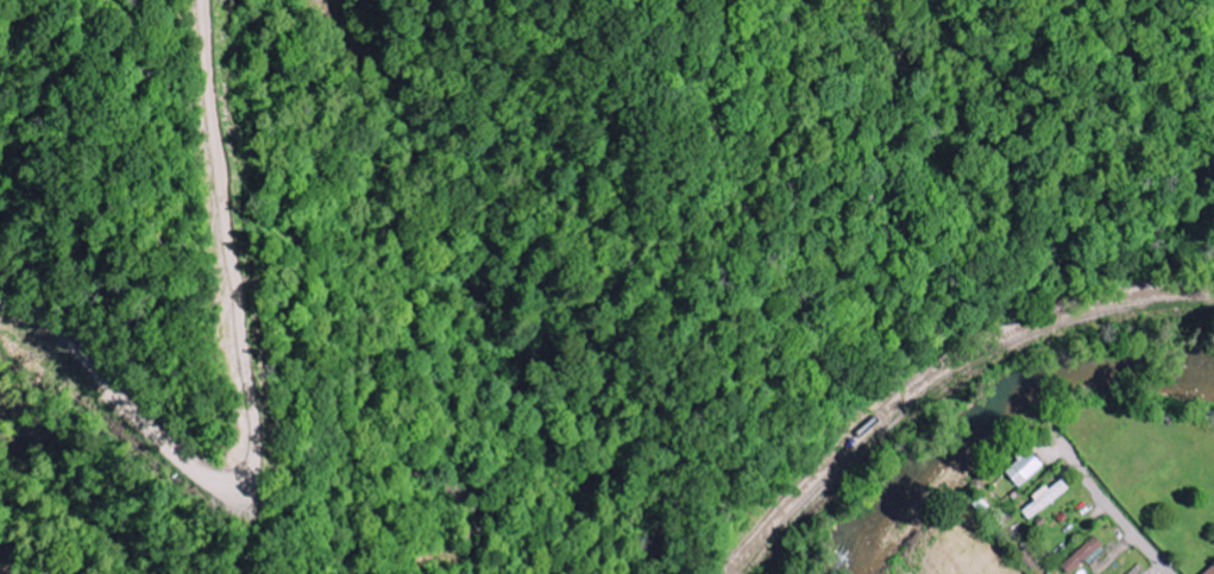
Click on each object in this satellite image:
railway: (946, 376)
road: (306, 390)
river: (993, 408)
building: (1025, 466)
road: (1082, 473)
building: (1046, 498)
road: (37, 526)
road: (1133, 532)
building: (1083, 555)
building: (1210, 570)

